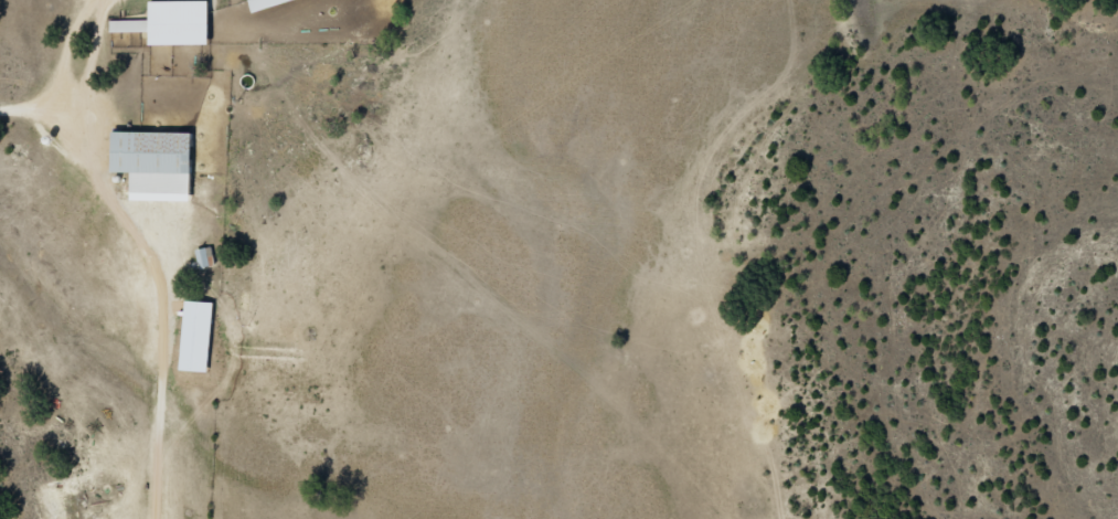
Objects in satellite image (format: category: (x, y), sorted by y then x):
building: (128, 23)
building: (152, 159)
building: (203, 254)
road: (166, 271)

